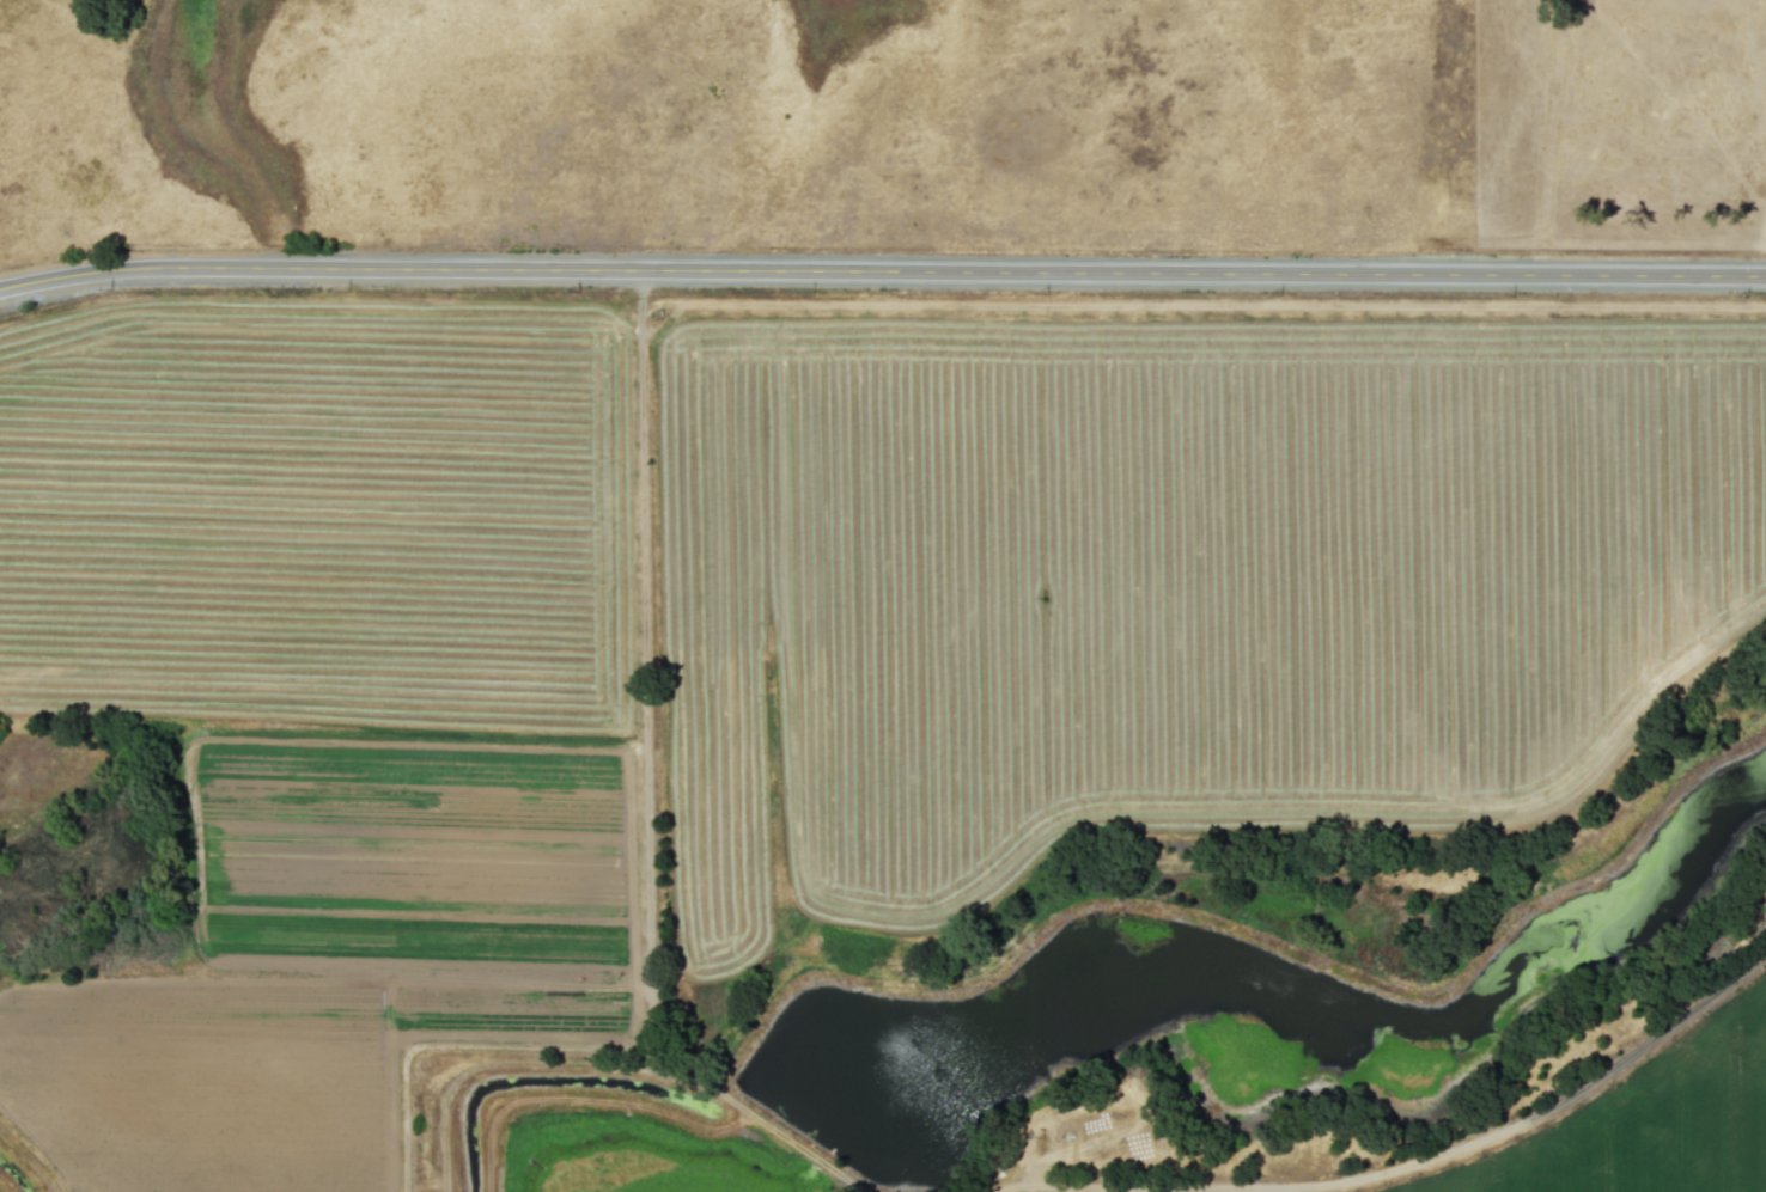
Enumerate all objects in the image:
road: (882, 269)

